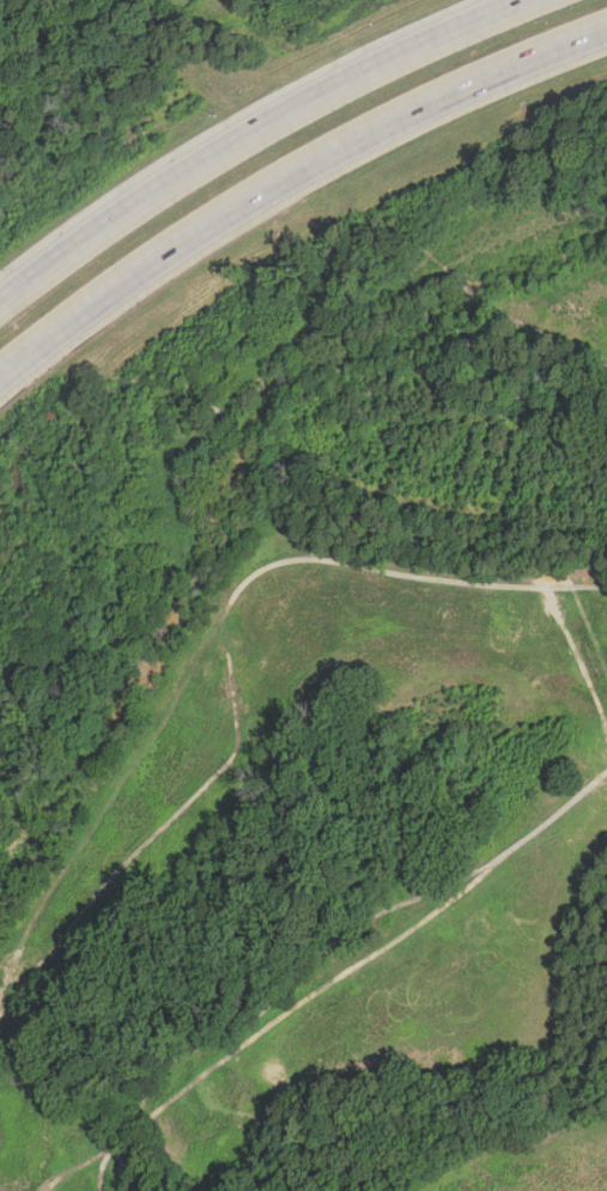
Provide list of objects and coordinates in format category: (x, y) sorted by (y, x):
road: (249, 132)
road: (289, 177)

